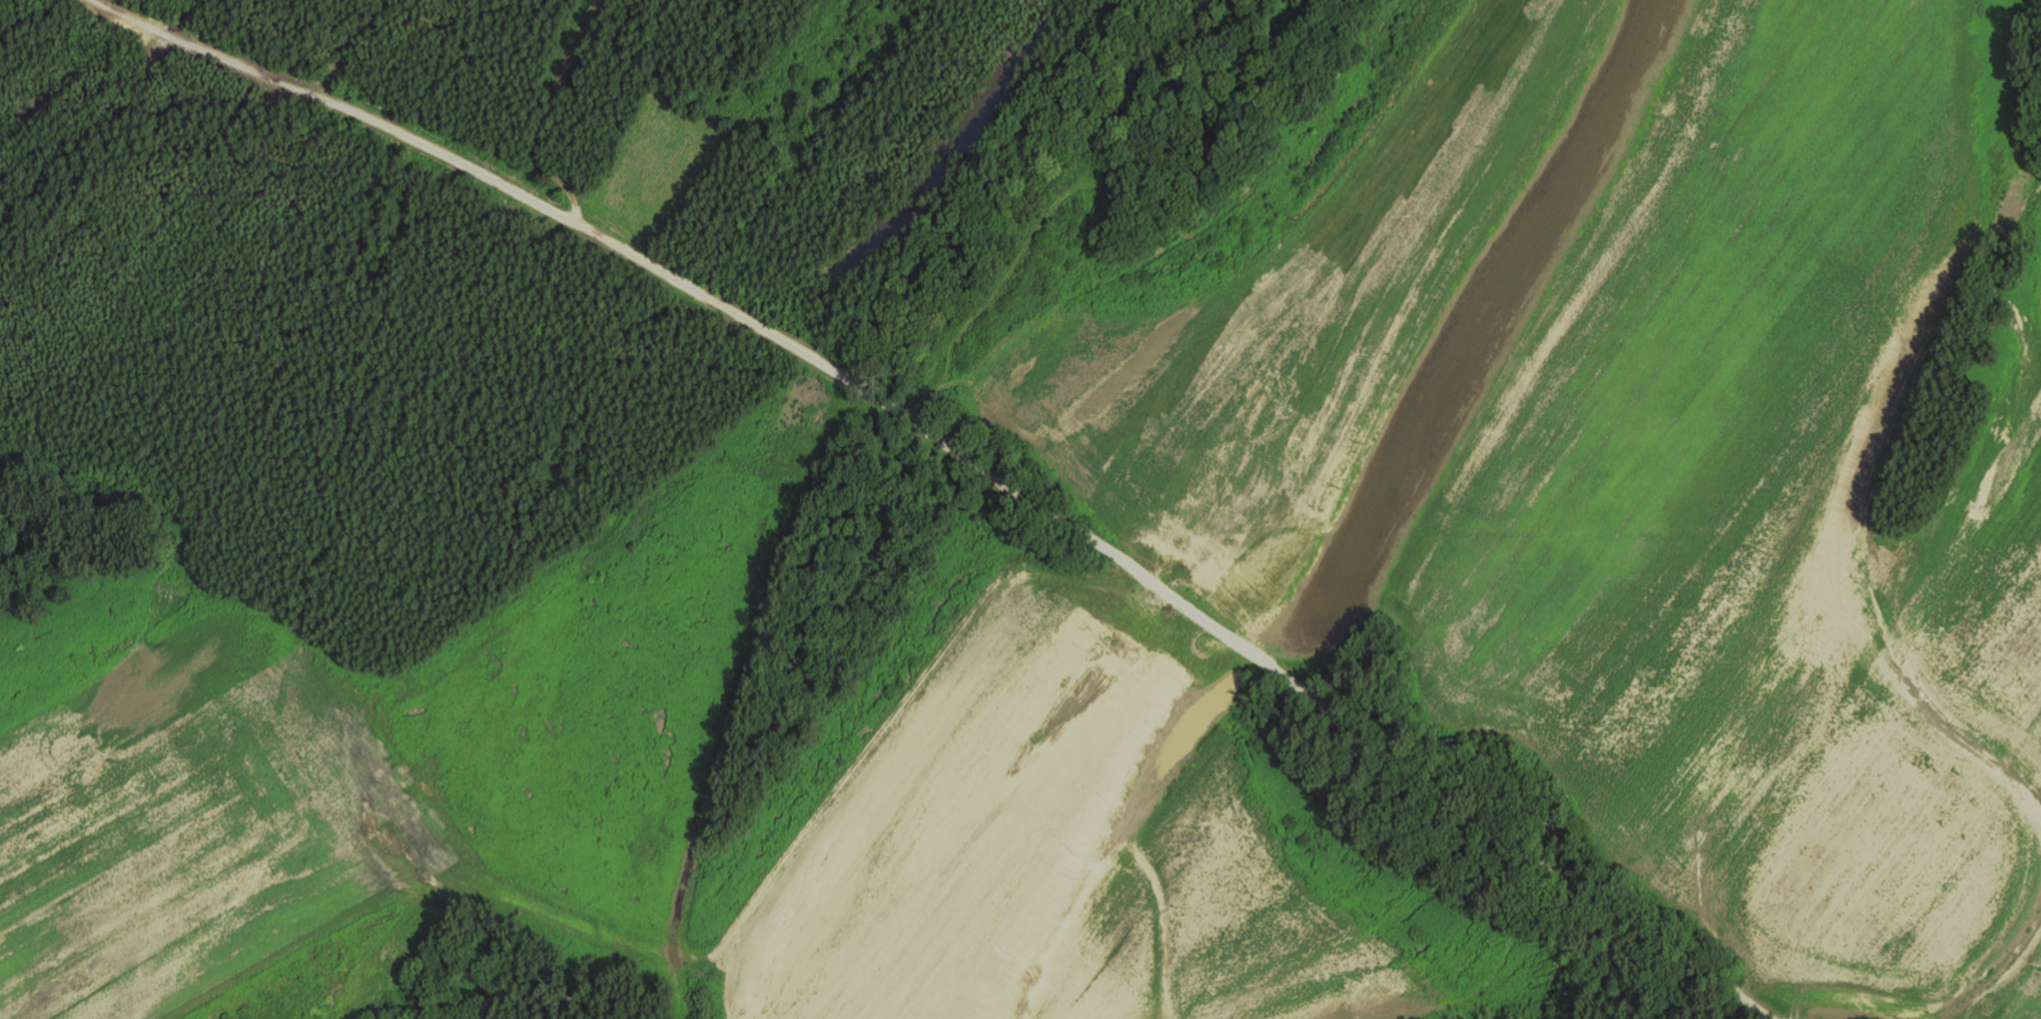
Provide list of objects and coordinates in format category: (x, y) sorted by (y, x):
road: (964, 457)

